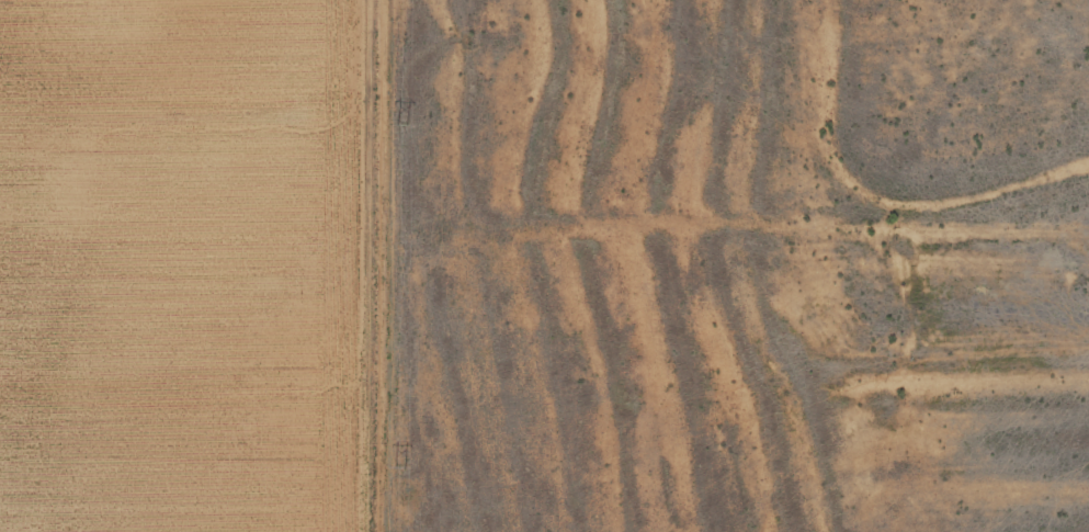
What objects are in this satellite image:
power tower: (401, 124)
power tower: (399, 468)

